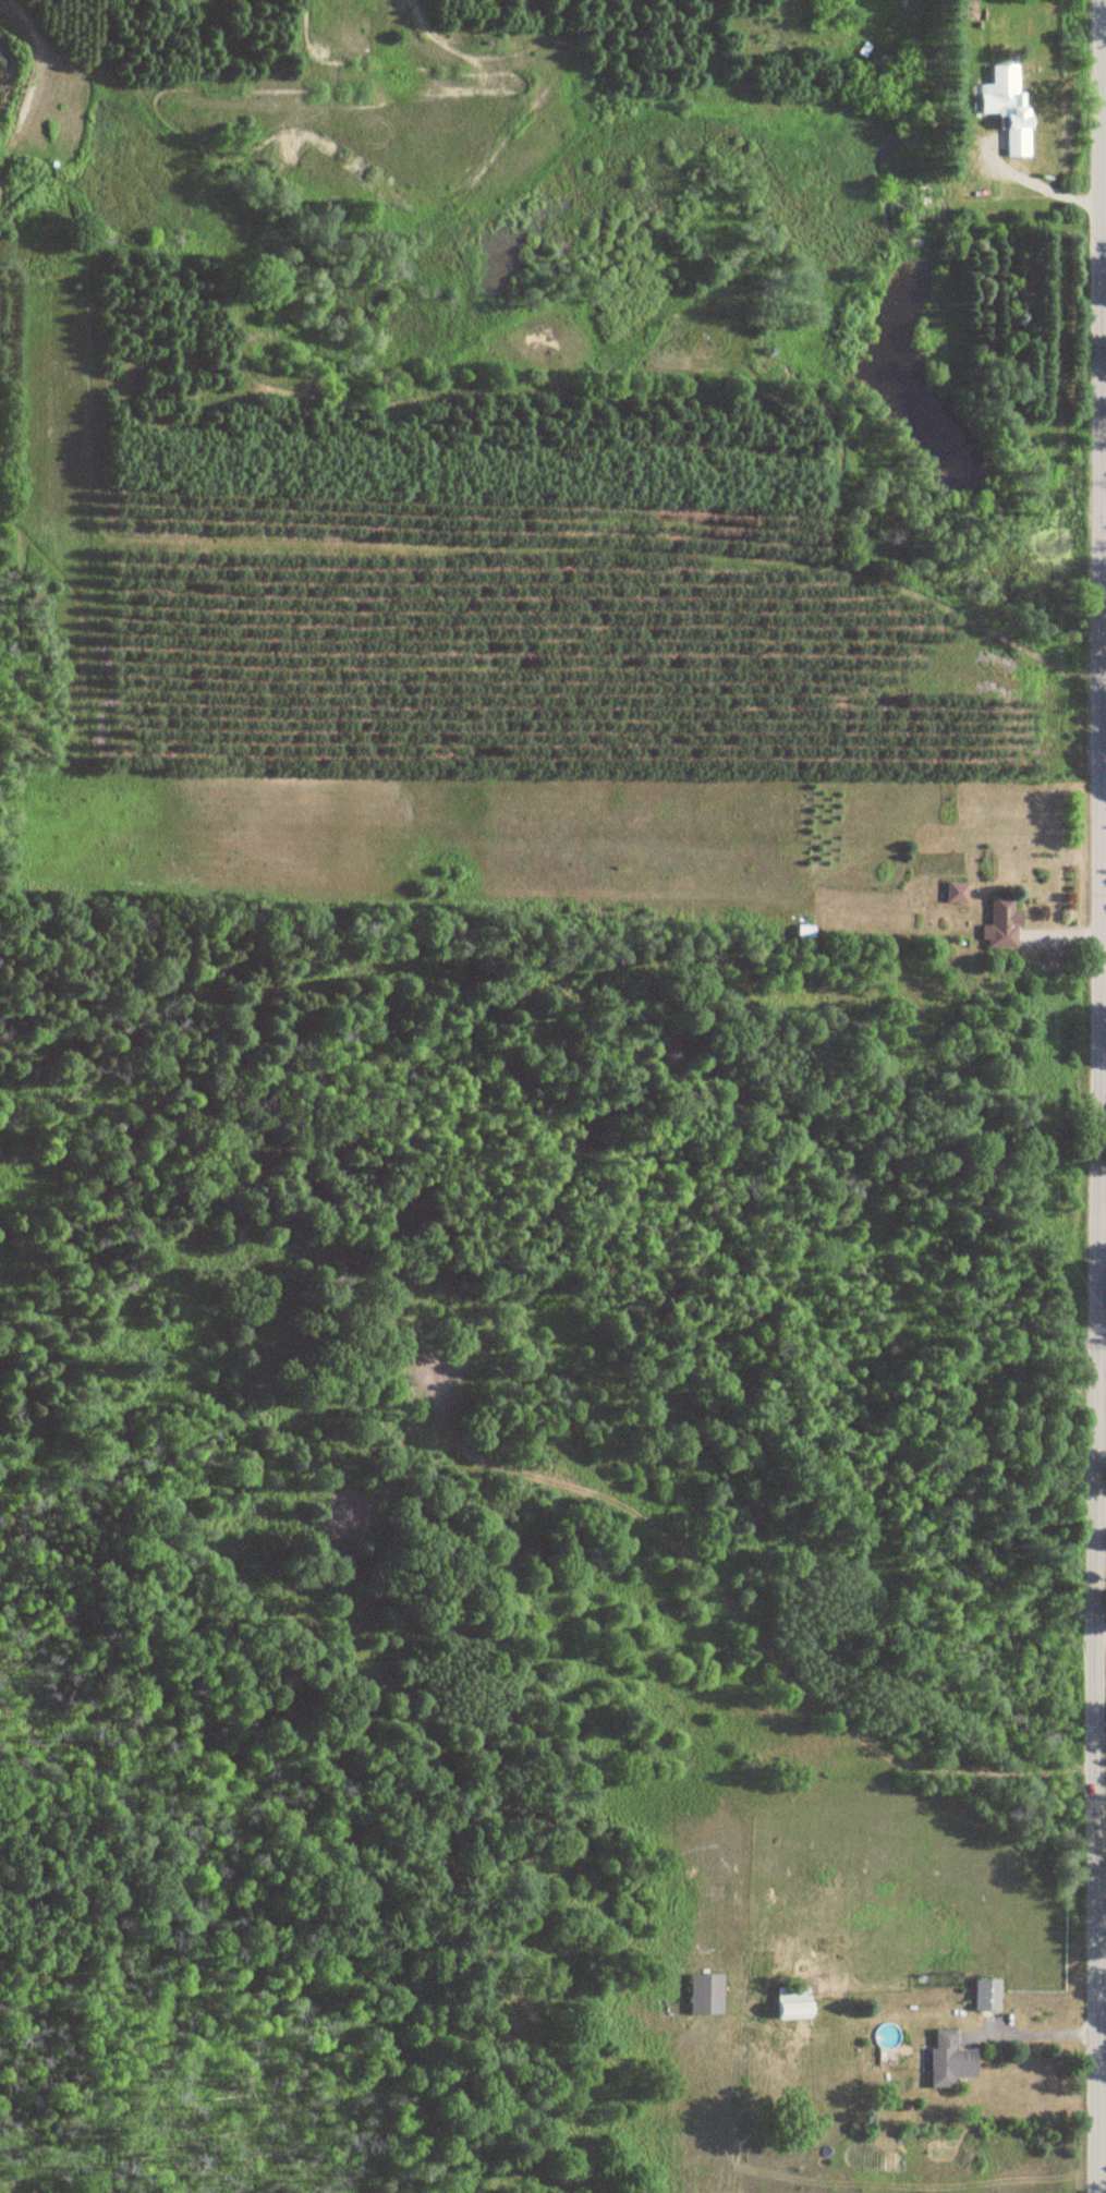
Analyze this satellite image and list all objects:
road: (1105, 54)
building: (1006, 110)
road: (1024, 178)
building: (951, 893)
building: (997, 925)
building: (800, 932)
road: (1094, 1096)
road: (1098, 1510)
road: (1098, 1633)
building: (700, 1994)
building: (982, 1995)
building: (786, 2002)
road: (1031, 2034)
building: (945, 2059)

